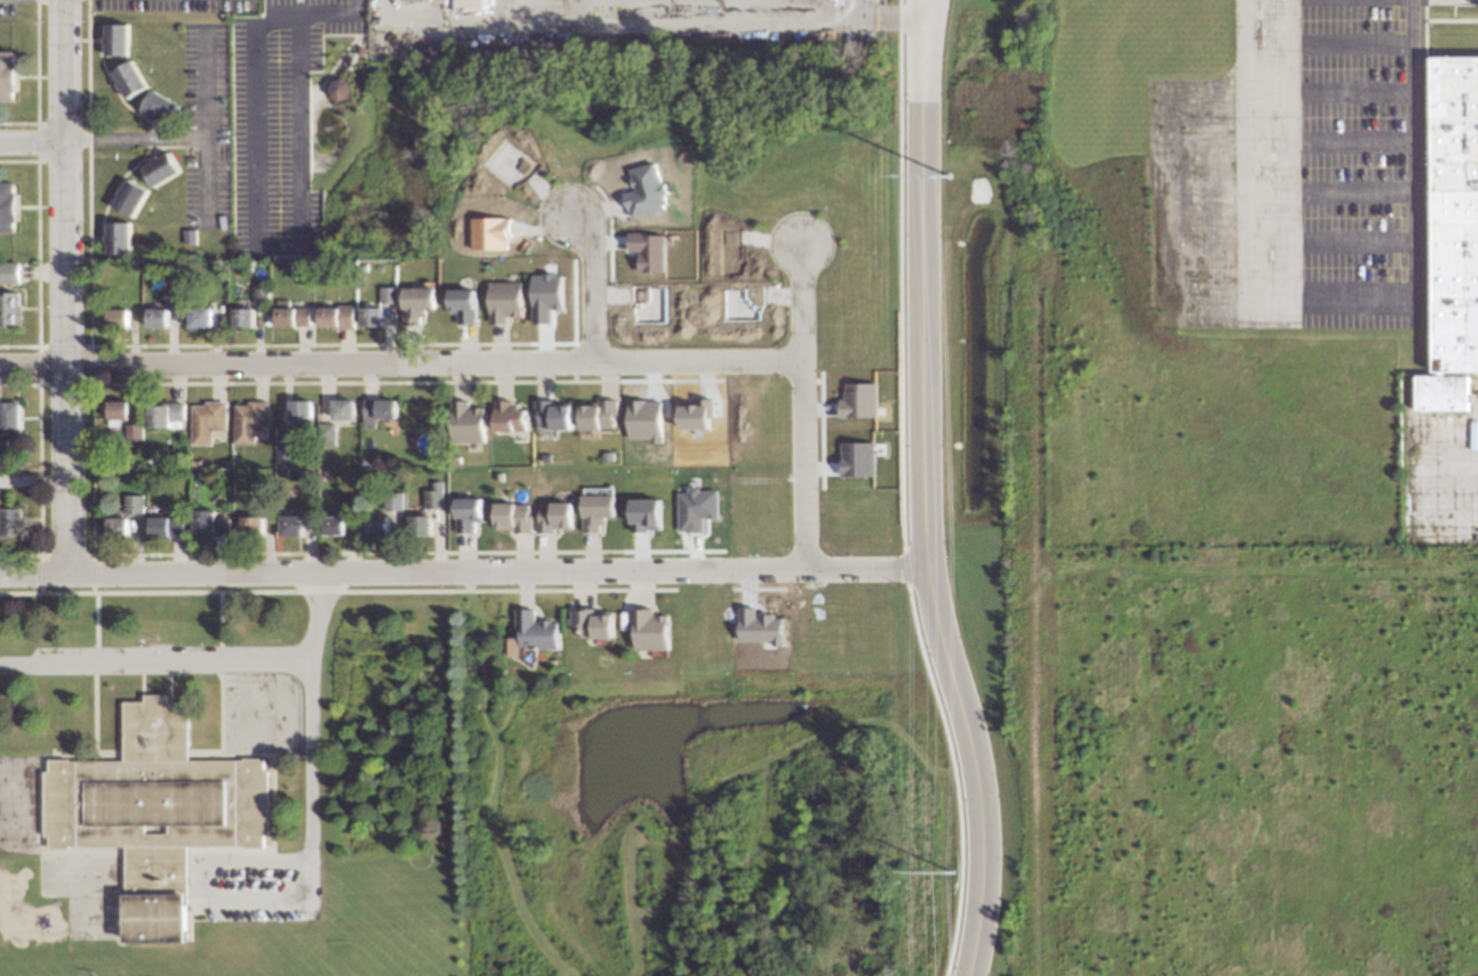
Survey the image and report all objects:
road: (922, 12)
road: (332, 14)
building: (117, 40)
building: (8, 76)
building: (130, 79)
building: (340, 91)
building: (161, 108)
parking lot: (277, 122)
road: (190, 139)
road: (32, 145)
building: (161, 169)
road: (208, 182)
building: (647, 191)
building: (130, 198)
building: (8, 207)
power tower: (947, 219)
building: (1453, 235)
building: (118, 237)
road: (257, 245)
building: (649, 251)
building: (9, 273)
road: (587, 280)
road: (64, 288)
building: (260, 295)
building: (388, 295)
building: (172, 296)
building: (546, 297)
building: (505, 301)
building: (417, 303)
building: (464, 306)
building: (10, 310)
building: (292, 315)
building: (118, 317)
building: (243, 317)
building: (336, 317)
building: (372, 317)
road: (1332, 317)
building: (157, 318)
building: (200, 318)
road: (399, 366)
building: (859, 401)
road: (799, 406)
building: (300, 410)
building: (343, 410)
building: (378, 411)
building: (118, 412)
building: (597, 414)
building: (166, 415)
building: (551, 415)
building: (696, 415)
building: (9, 417)
building: (508, 417)
building: (644, 420)
building: (207, 421)
building: (250, 421)
building: (466, 422)
building: (134, 432)
building: (3, 448)
building: (285, 457)
building: (857, 459)
building: (433, 498)
building: (392, 501)
building: (133, 504)
road: (921, 506)
building: (695, 509)
building: (595, 512)
building: (467, 514)
building: (645, 514)
building: (511, 517)
building: (553, 517)
building: (10, 522)
building: (210, 522)
building: (252, 525)
building: (334, 525)
building: (376, 525)
building: (291, 526)
building: (419, 526)
building: (117, 527)
building: (166, 527)
road: (460, 575)
building: (592, 623)
building: (758, 627)
building: (647, 629)
building: (531, 634)
road: (191, 663)
road: (214, 664)
road: (90, 666)
road: (246, 753)
road: (764, 758)
road: (489, 781)
park: (709, 801)
building: (155, 813)
road: (935, 840)
power tower: (952, 878)
parking lot: (248, 885)
road: (297, 900)
road: (557, 975)

